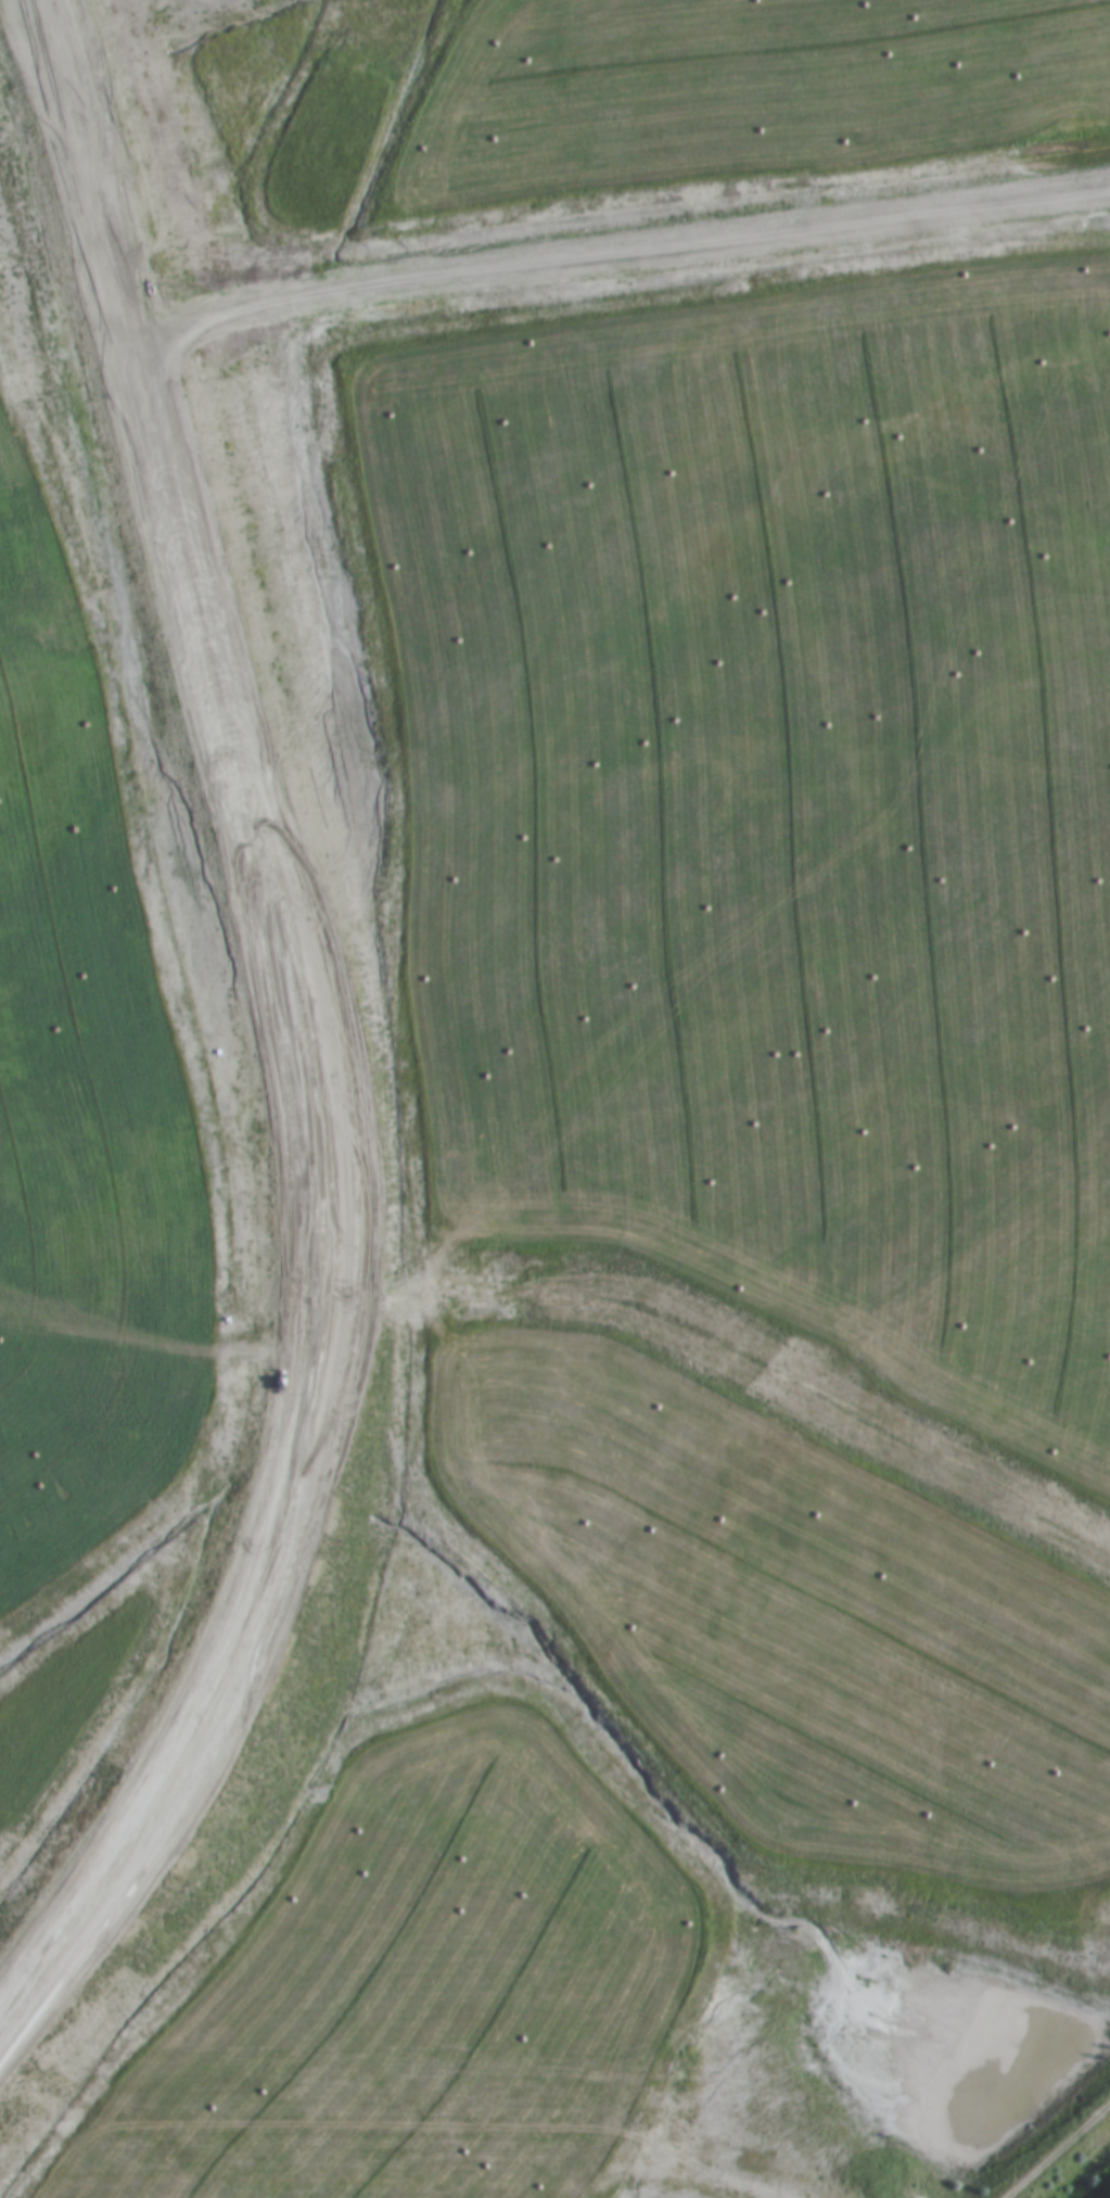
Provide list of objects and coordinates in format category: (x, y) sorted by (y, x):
building: (437, 1763)
building: (664, 1926)
building: (518, 1929)
building: (503, 1980)
building: (681, 2017)
building: (684, 2051)

